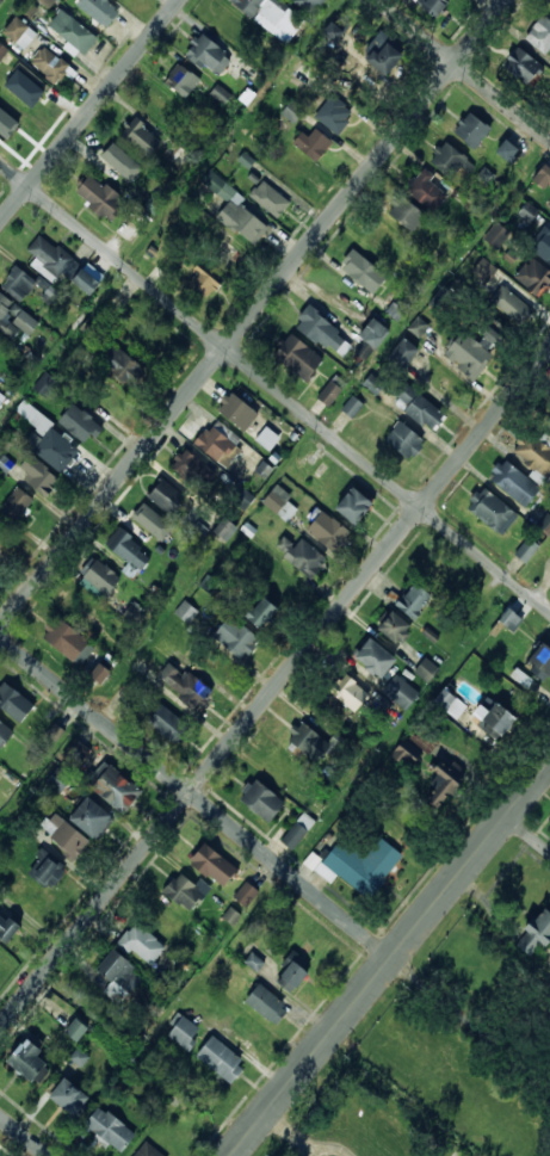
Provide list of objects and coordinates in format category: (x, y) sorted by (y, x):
building: (119, 0)
building: (124, 0)
building: (0, 1)
building: (47, 2)
building: (305, 5)
building: (432, 6)
building: (98, 10)
building: (549, 12)
building: (271, 17)
building: (333, 30)
building: (72, 32)
building: (18, 33)
building: (540, 36)
building: (2, 52)
building: (208, 56)
building: (381, 58)
building: (48, 64)
building: (523, 67)
road: (463, 70)
building: (180, 81)
building: (23, 89)
road: (91, 111)
building: (291, 113)
building: (332, 116)
building: (7, 123)
building: (470, 131)
building: (141, 138)
building: (310, 144)
building: (505, 152)
building: (446, 161)
building: (118, 165)
building: (542, 177)
building: (217, 186)
building: (425, 192)
building: (98, 198)
building: (270, 200)
building: (404, 215)
building: (240, 224)
building: (125, 233)
building: (496, 234)
building: (388, 245)
building: (50, 258)
building: (484, 266)
building: (360, 272)
building: (531, 277)
building: (203, 282)
building: (82, 283)
building: (18, 285)
building: (508, 304)
building: (397, 309)
road: (253, 311)
building: (6, 316)
building: (418, 326)
building: (322, 334)
building: (372, 334)
building: (363, 350)
building: (471, 350)
building: (401, 354)
building: (296, 359)
building: (123, 364)
building: (44, 384)
building: (372, 384)
road: (273, 387)
building: (329, 394)
building: (1, 396)
building: (416, 408)
building: (351, 409)
building: (235, 413)
building: (78, 425)
building: (266, 438)
building: (402, 441)
building: (218, 444)
building: (55, 452)
building: (533, 455)
building: (5, 463)
building: (191, 469)
building: (38, 476)
building: (512, 484)
building: (166, 496)
building: (241, 496)
building: (14, 506)
building: (278, 507)
building: (351, 507)
building: (489, 512)
building: (148, 521)
building: (224, 528)
building: (325, 532)
building: (525, 552)
building: (128, 554)
building: (299, 558)
building: (441, 575)
building: (98, 577)
building: (208, 585)
building: (412, 602)
building: (186, 611)
building: (130, 612)
building: (260, 614)
building: (508, 622)
building: (391, 630)
building: (234, 639)
building: (66, 643)
building: (372, 659)
building: (539, 661)
building: (426, 669)
building: (97, 675)
building: (184, 690)
road: (274, 690)
building: (400, 691)
building: (348, 694)
building: (16, 701)
building: (449, 703)
building: (493, 722)
building: (166, 724)
building: (54, 731)
building: (5, 734)
building: (307, 742)
building: (76, 752)
building: (406, 754)
building: (282, 769)
building: (58, 780)
building: (441, 783)
building: (118, 789)
road: (196, 797)
building: (259, 800)
building: (93, 817)
building: (297, 832)
building: (66, 835)
road: (527, 835)
building: (212, 865)
building: (359, 865)
building: (49, 870)
building: (184, 891)
building: (246, 894)
road: (503, 911)
building: (166, 920)
building: (8, 926)
building: (534, 932)
building: (132, 957)
road: (390, 959)
building: (253, 960)
building: (289, 977)
building: (265, 1004)
road: (471, 1021)
building: (75, 1028)
building: (186, 1033)
building: (31, 1059)
building: (223, 1059)
building: (72, 1096)
building: (111, 1129)
road: (293, 1133)
road: (23, 1136)
building: (148, 1150)

